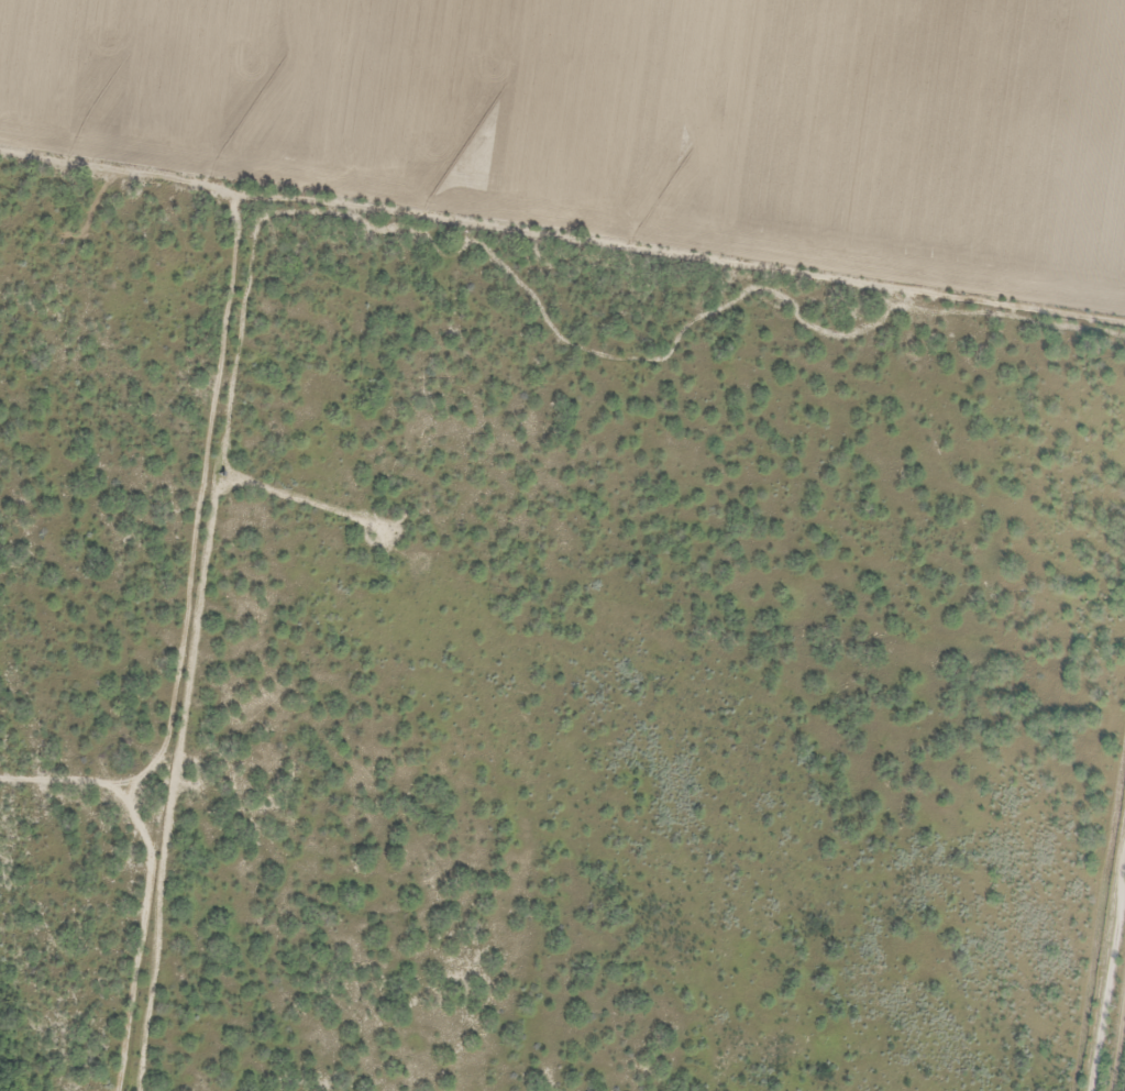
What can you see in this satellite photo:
road: (1115, 1021)

